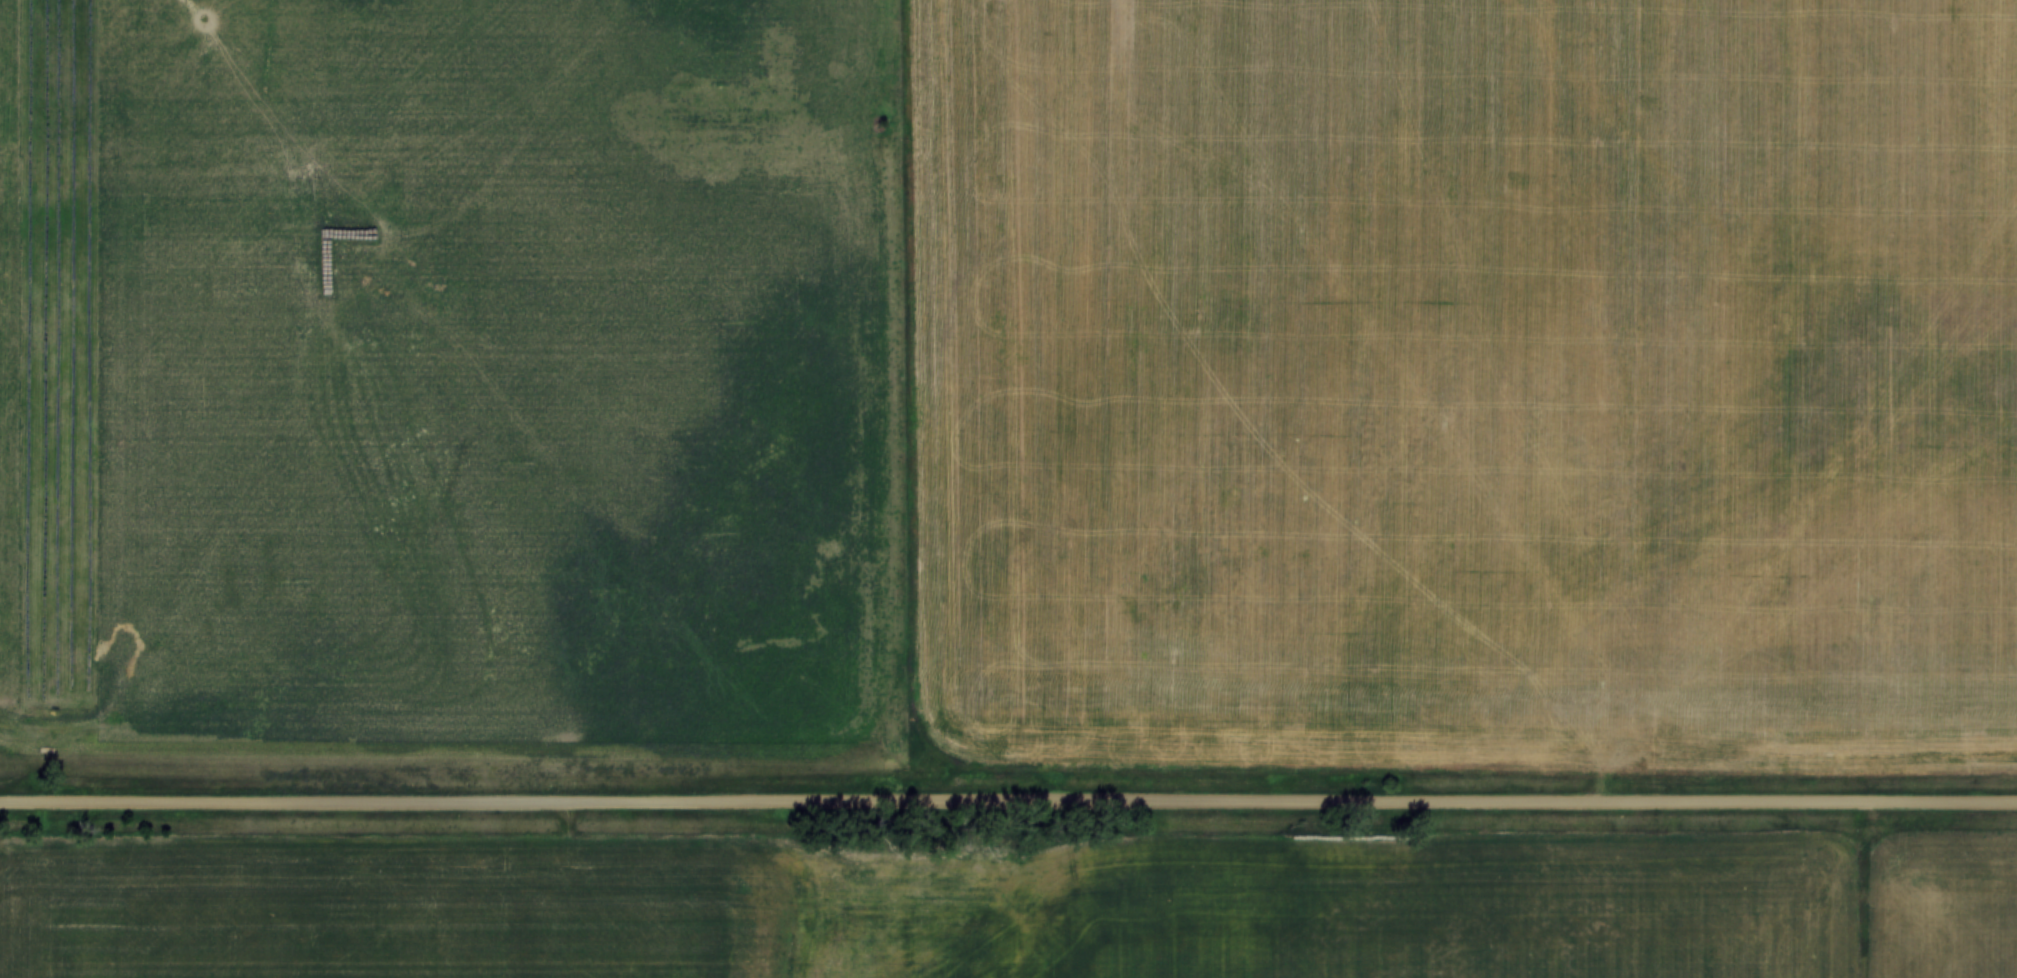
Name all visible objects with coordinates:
road: (1008, 805)

